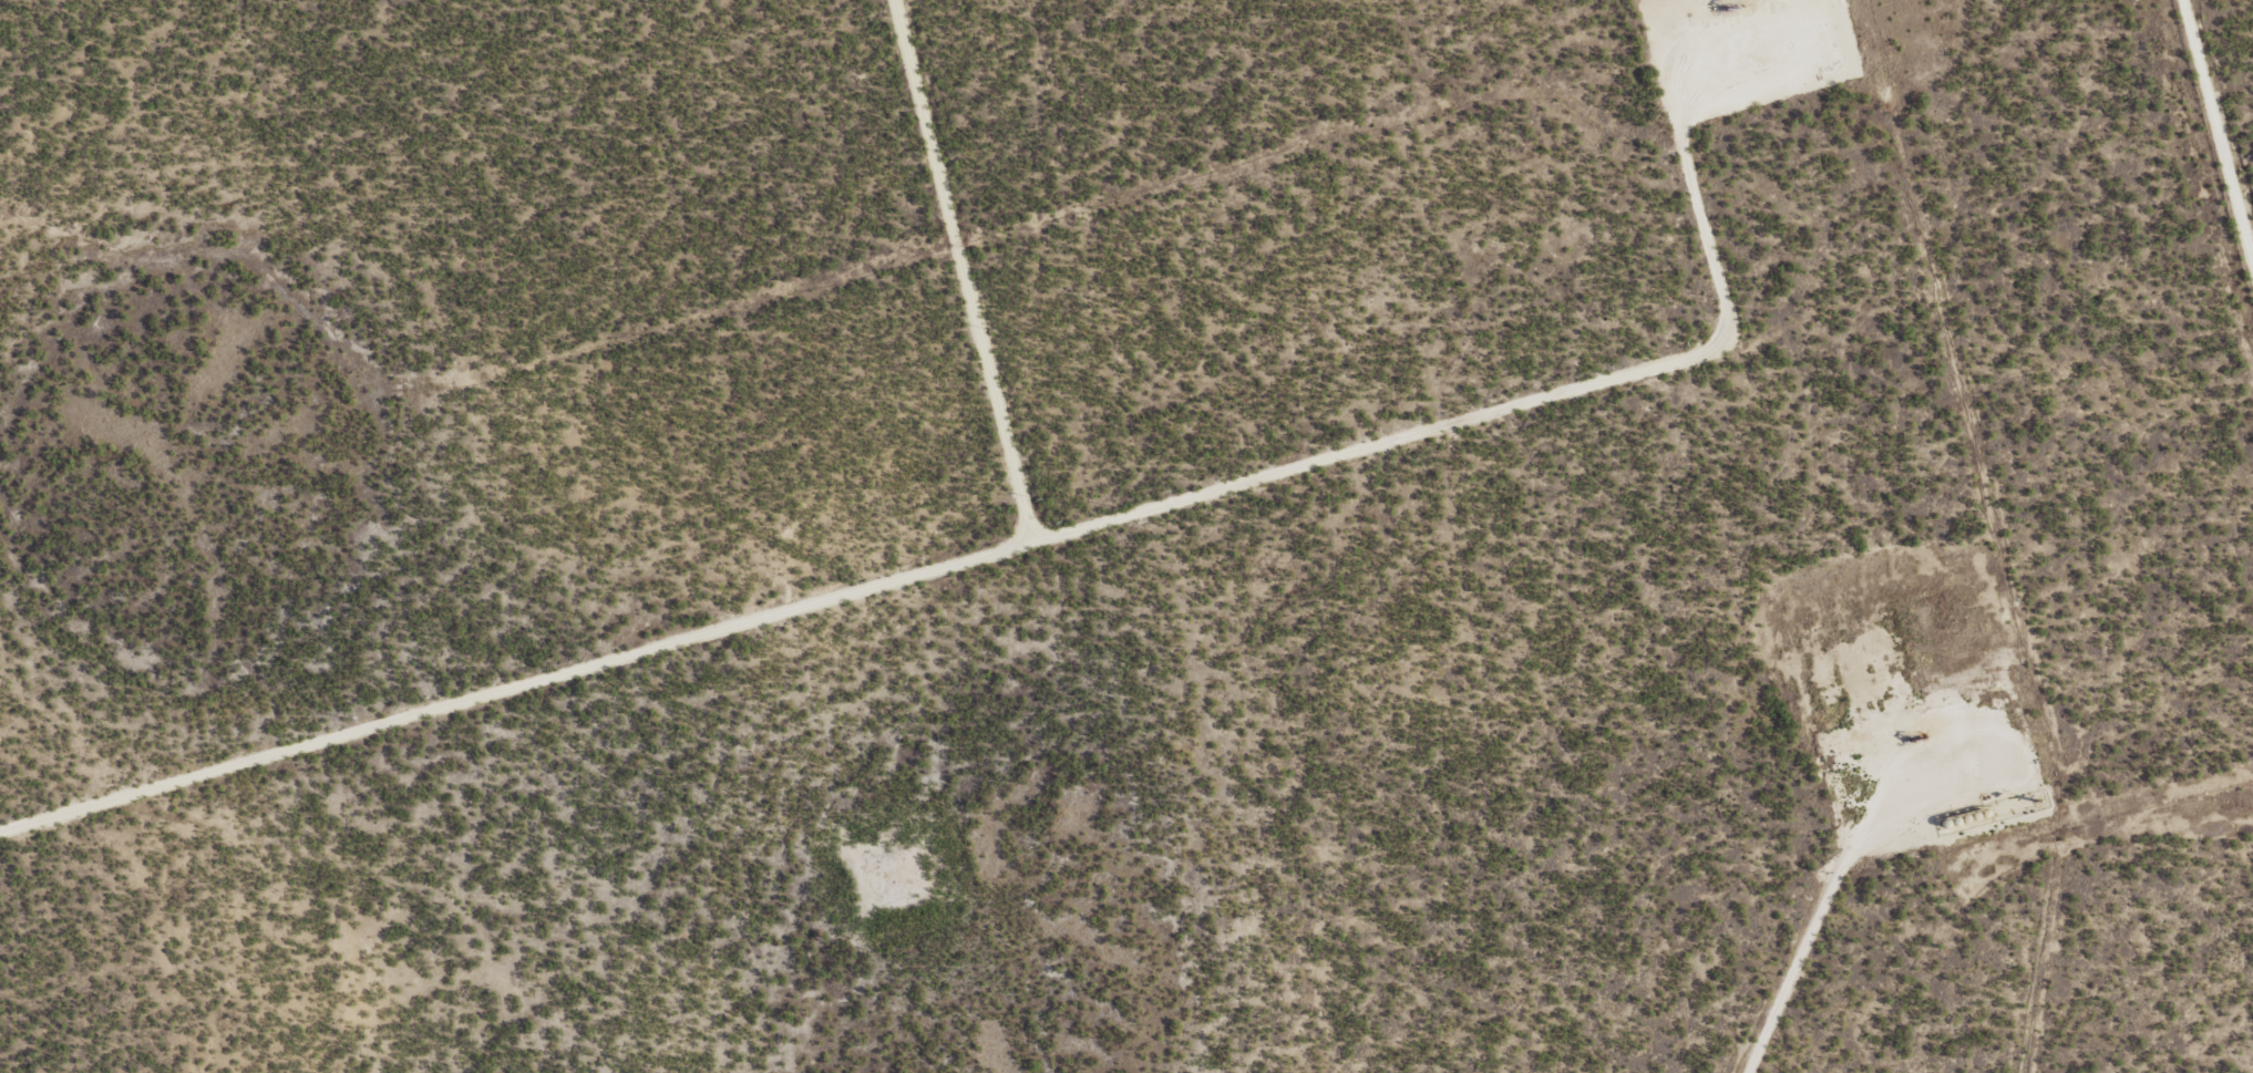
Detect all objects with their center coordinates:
road: (2218, 131)

